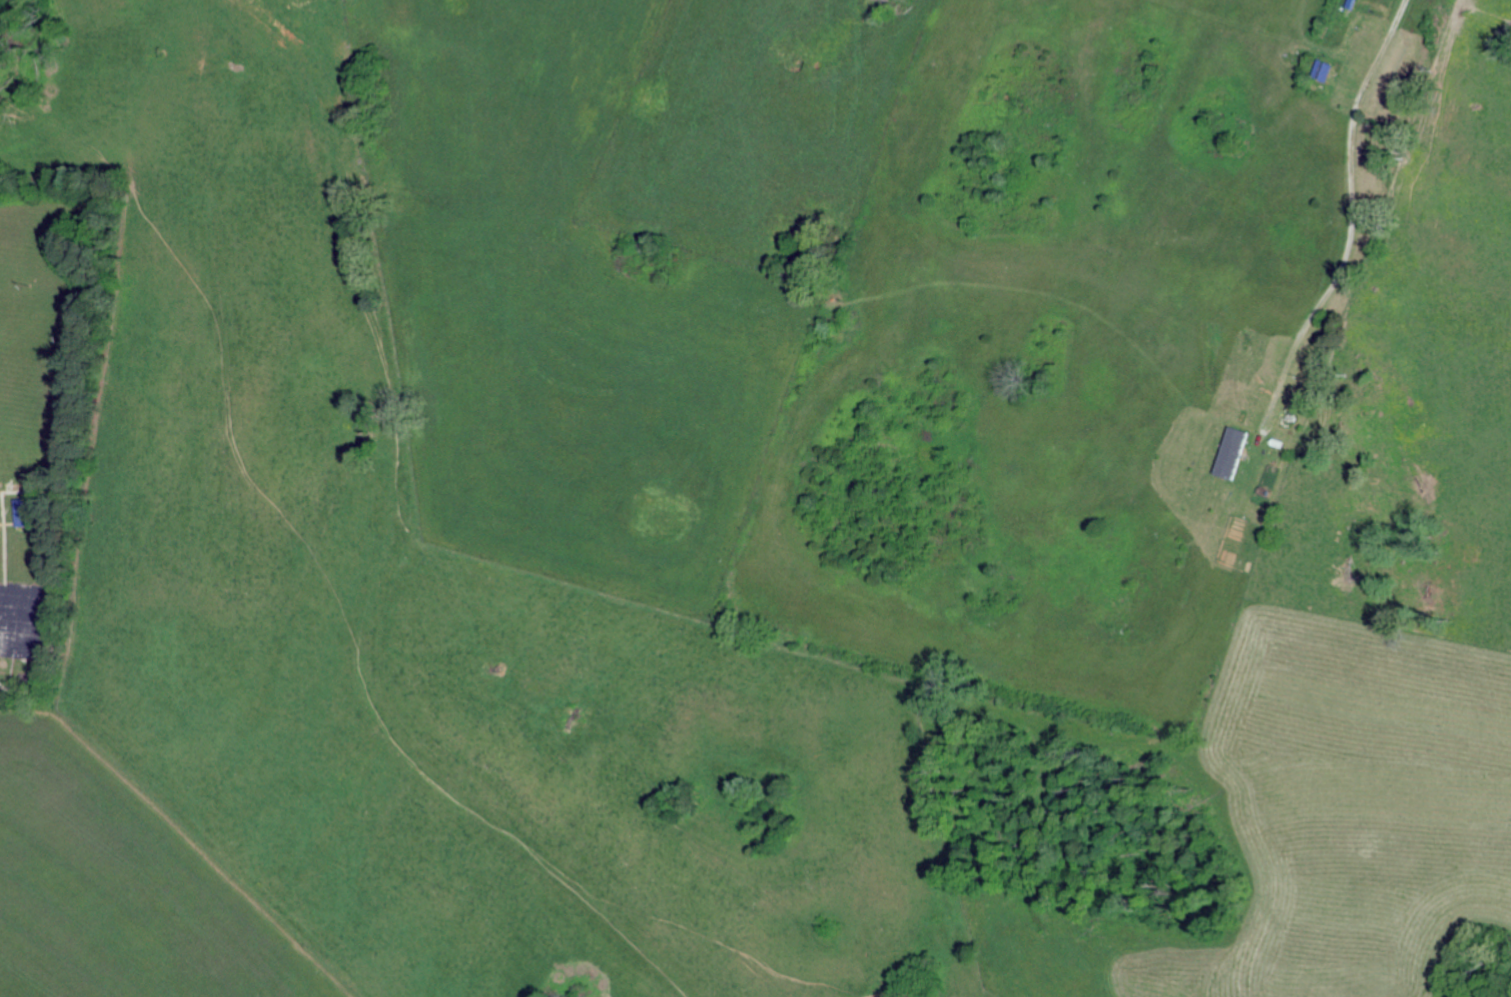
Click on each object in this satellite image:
building: (1320, 70)
building: (1229, 452)
building: (28, 512)

